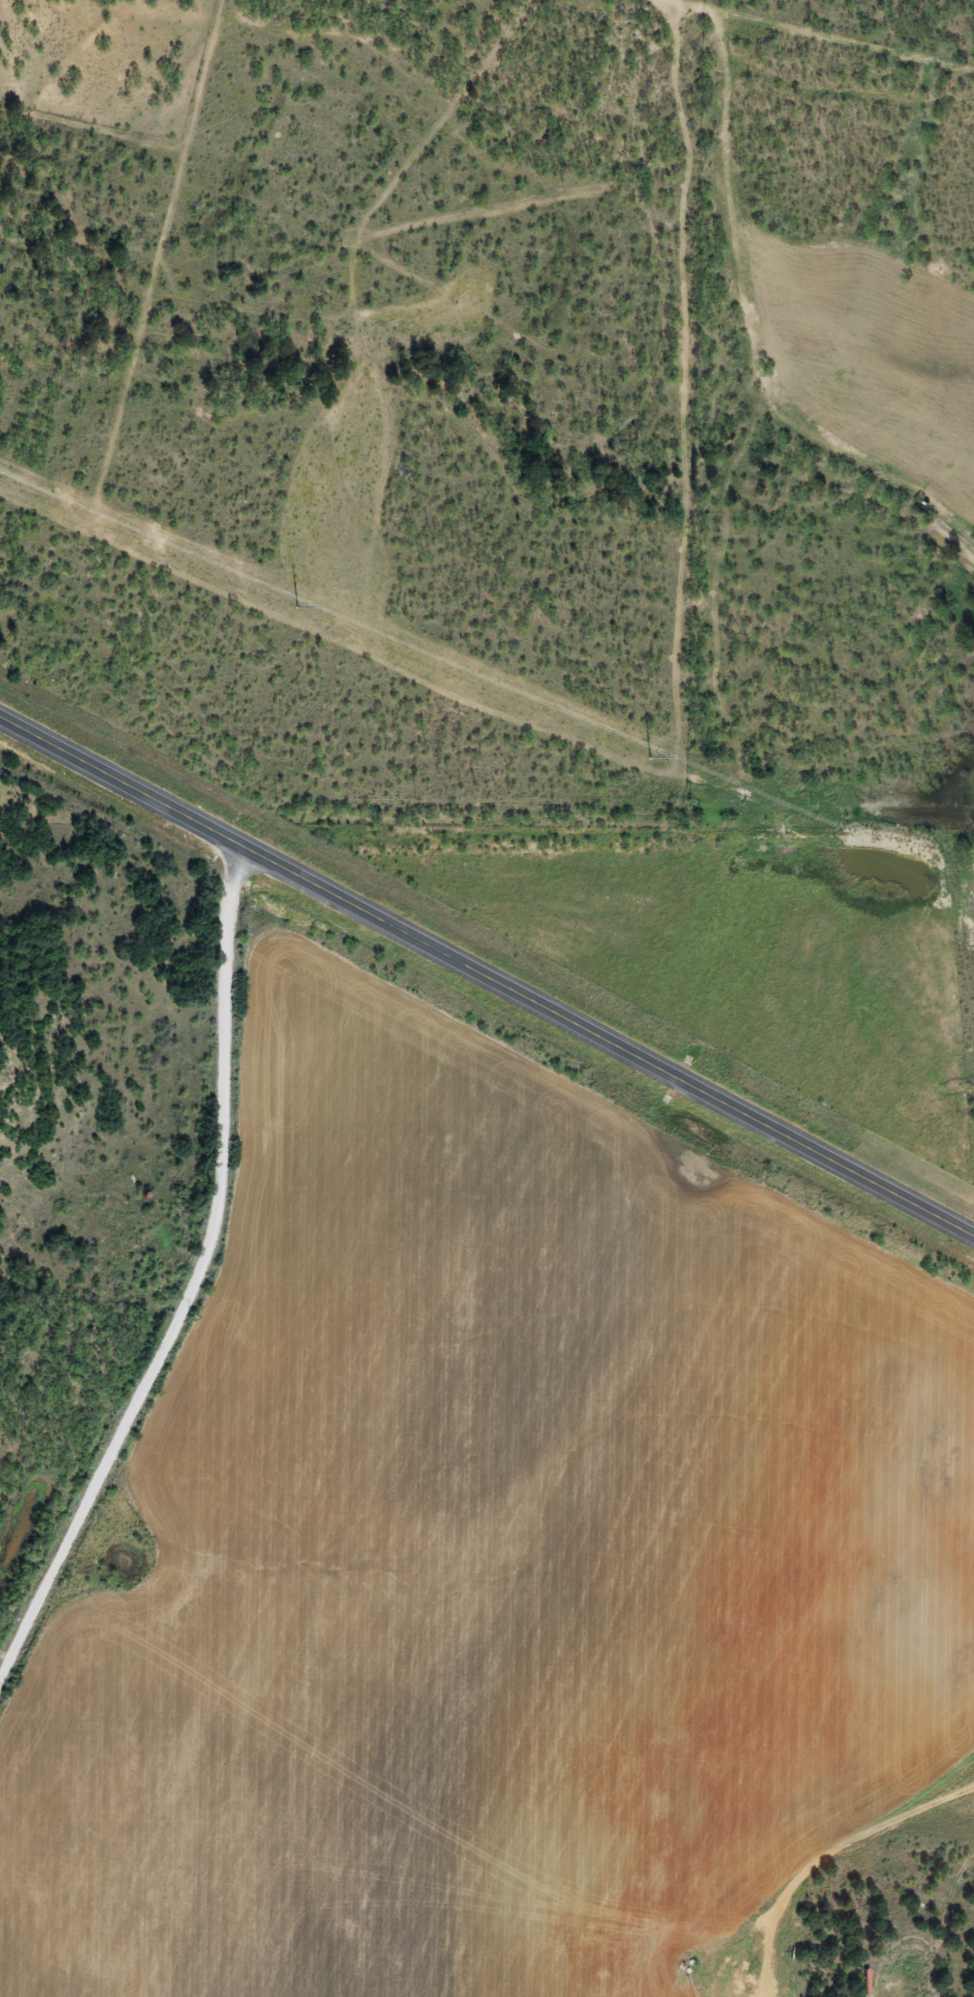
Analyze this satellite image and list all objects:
road: (486, 976)
road: (191, 1288)

